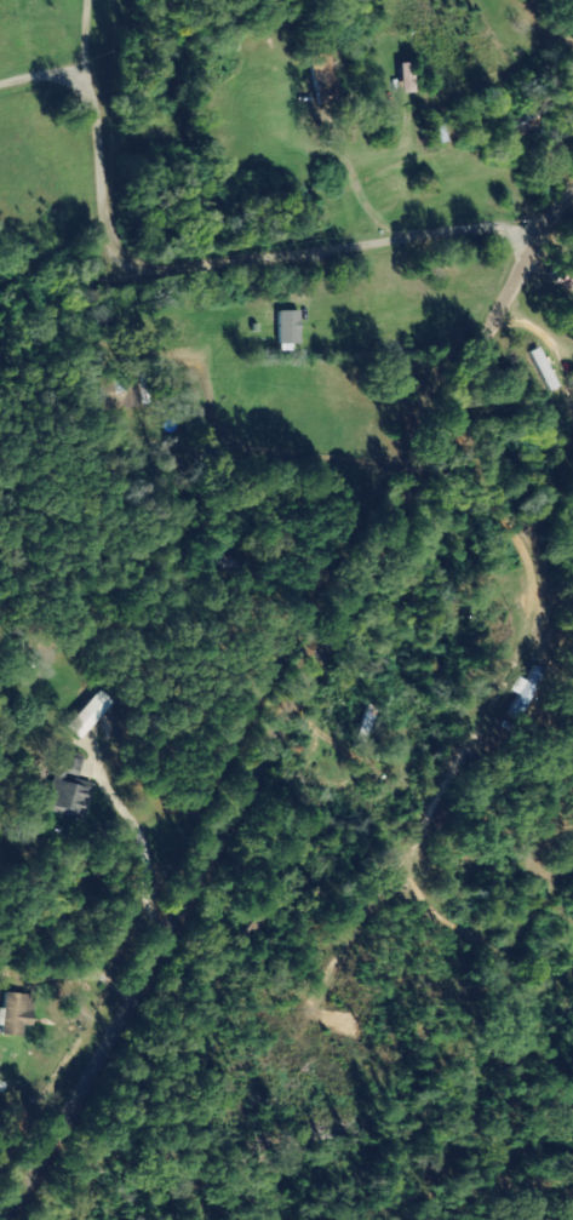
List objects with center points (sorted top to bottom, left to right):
building: (409, 78)
building: (327, 79)
building: (523, 125)
building: (566, 277)
building: (292, 330)
road: (313, 368)
building: (134, 389)
building: (526, 691)
road: (277, 711)
building: (93, 715)
building: (368, 724)
building: (73, 790)
building: (19, 1014)

